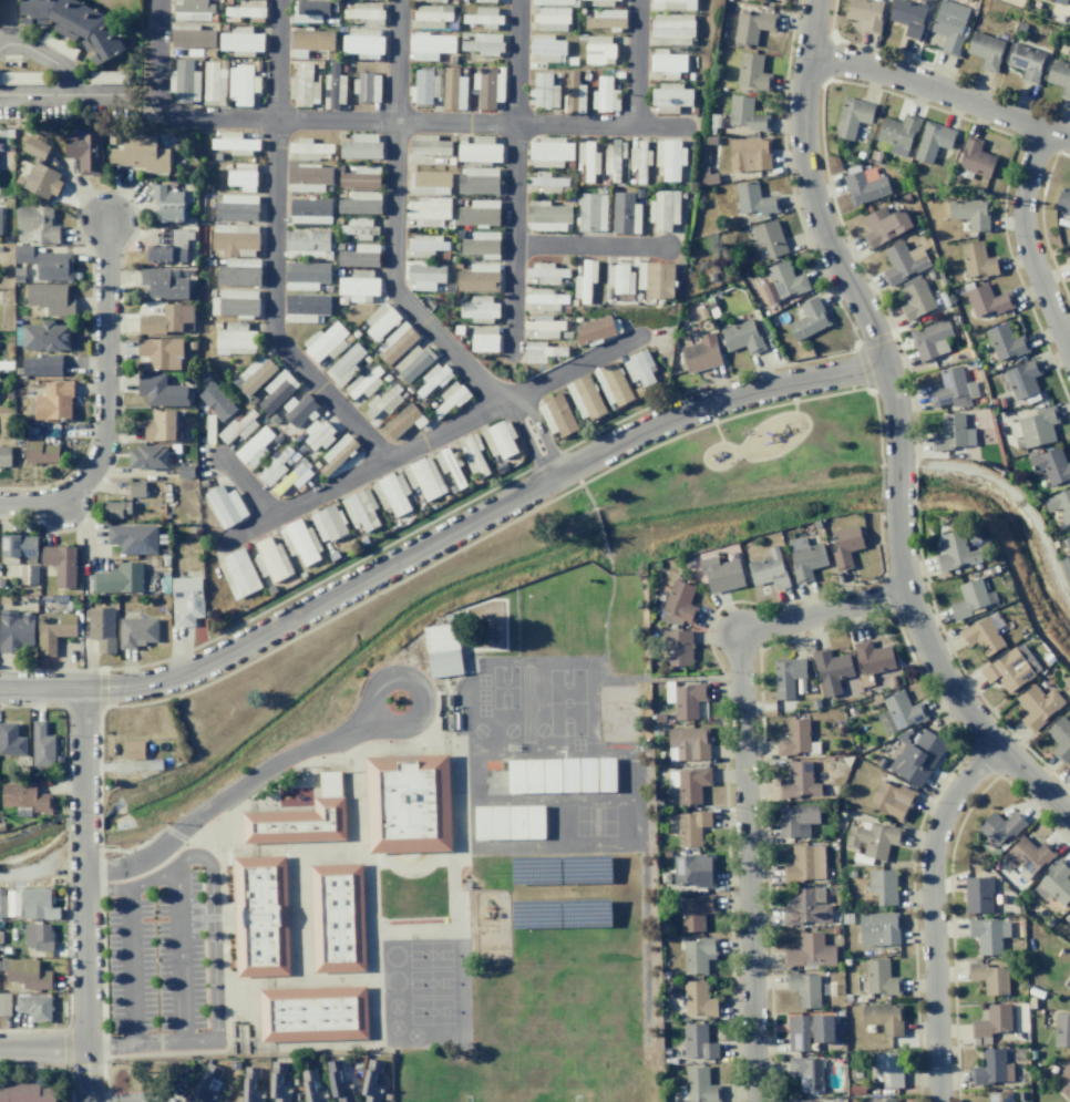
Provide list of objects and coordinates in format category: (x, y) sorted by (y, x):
building: (434, 0)
building: (486, 0)
building: (616, 0)
building: (762, 0)
building: (1059, 1)
building: (553, 2)
building: (673, 4)
building: (192, 10)
building: (244, 10)
building: (309, 10)
building: (366, 12)
building: (865, 13)
building: (432, 14)
building: (907, 17)
building: (484, 18)
building: (552, 19)
building: (606, 19)
road: (8, 21)
building: (76, 23)
building: (752, 24)
building: (949, 25)
building: (672, 28)
building: (191, 37)
building: (240, 41)
building: (311, 41)
building: (362, 42)
building: (481, 43)
building: (58, 45)
building: (429, 45)
building: (547, 48)
building: (598, 50)
building: (985, 50)
road: (156, 61)
building: (1026, 62)
road: (635, 63)
building: (667, 63)
road: (64, 72)
building: (751, 72)
building: (109, 78)
building: (1060, 78)
building: (22, 79)
building: (184, 82)
building: (213, 84)
building: (241, 84)
building: (302, 86)
building: (367, 86)
building: (333, 87)
building: (423, 87)
building: (487, 87)
building: (453, 90)
road: (940, 90)
building: (543, 91)
road: (34, 94)
building: (573, 94)
building: (604, 95)
building: (669, 97)
building: (744, 113)
building: (851, 117)
road: (430, 121)
building: (898, 133)
building: (710, 140)
building: (932, 141)
building: (234, 143)
building: (429, 145)
building: (360, 146)
building: (310, 150)
building: (480, 150)
building: (85, 152)
building: (549, 152)
building: (749, 154)
building: (141, 155)
building: (669, 158)
building: (587, 159)
building: (613, 159)
building: (973, 159)
building: (639, 161)
building: (39, 169)
building: (241, 176)
road: (514, 176)
building: (308, 177)
building: (360, 177)
building: (708, 177)
building: (479, 181)
building: (429, 183)
building: (546, 183)
building: (865, 187)
building: (754, 199)
building: (1063, 199)
building: (167, 203)
building: (360, 203)
building: (236, 207)
building: (663, 209)
building: (309, 210)
building: (428, 210)
building: (590, 212)
building: (479, 213)
building: (970, 213)
building: (625, 214)
building: (547, 216)
building: (0, 220)
road: (392, 223)
building: (37, 225)
building: (884, 225)
building: (360, 227)
building: (769, 237)
road: (824, 238)
building: (234, 239)
building: (306, 244)
road: (1026, 244)
building: (482, 245)
building: (426, 246)
road: (589, 246)
building: (169, 248)
road: (272, 251)
building: (916, 253)
building: (359, 256)
building: (977, 259)
building: (1069, 260)
building: (45, 262)
building: (901, 264)
building: (238, 272)
building: (545, 272)
building: (305, 275)
building: (425, 276)
building: (479, 278)
building: (620, 279)
building: (656, 279)
building: (584, 281)
building: (782, 282)
building: (164, 284)
building: (358, 286)
building: (50, 298)
building: (915, 298)
building: (546, 299)
building: (988, 300)
building: (235, 302)
building: (306, 308)
building: (480, 309)
building: (166, 319)
building: (809, 320)
building: (380, 321)
building: (543, 326)
building: (594, 330)
building: (45, 337)
building: (742, 337)
building: (928, 338)
building: (235, 339)
building: (484, 339)
building: (322, 341)
building: (397, 342)
building: (1006, 342)
building: (541, 351)
building: (161, 352)
building: (701, 353)
building: (412, 363)
building: (42, 365)
building: (343, 365)
building: (639, 368)
building: (254, 374)
building: (1021, 378)
building: (363, 383)
building: (951, 389)
building: (160, 390)
building: (276, 391)
road: (106, 398)
building: (585, 398)
building: (53, 401)
building: (215, 401)
building: (382, 404)
building: (291, 413)
building: (557, 414)
building: (401, 421)
building: (161, 425)
building: (1038, 426)
building: (238, 428)
road: (717, 431)
road: (541, 432)
building: (951, 433)
road: (430, 437)
road: (526, 439)
building: (498, 441)
building: (254, 446)
building: (41, 451)
building: (337, 453)
building: (4, 455)
building: (474, 455)
building: (147, 456)
building: (449, 465)
building: (1051, 465)
road: (723, 468)
building: (186, 471)
building: (424, 477)
building: (292, 478)
road: (897, 485)
road: (247, 486)
building: (136, 490)
building: (392, 493)
road: (587, 497)
building: (1059, 504)
building: (225, 506)
building: (115, 509)
building: (361, 509)
building: (328, 523)
road: (599, 532)
road: (442, 535)
building: (133, 538)
building: (300, 542)
building: (1068, 542)
building: (845, 546)
building: (18, 548)
building: (955, 552)
building: (805, 558)
building: (271, 559)
road: (609, 562)
park: (547, 563)
building: (60, 564)
building: (1064, 568)
building: (769, 570)
building: (23, 574)
building: (238, 574)
building: (721, 574)
building: (119, 578)
building: (186, 599)
building: (969, 599)
building: (680, 603)
building: (102, 628)
building: (16, 630)
building: (53, 630)
building: (136, 631)
building: (981, 636)
building: (676, 647)
building: (442, 650)
building: (873, 657)
building: (1010, 668)
building: (831, 670)
building: (786, 677)
road: (946, 681)
road: (373, 692)
building: (688, 699)
building: (1037, 707)
building: (903, 710)
building: (794, 738)
building: (11, 740)
building: (1060, 740)
building: (688, 743)
building: (42, 745)
building: (133, 749)
building: (917, 758)
building: (154, 764)
building: (1069, 768)
building: (498, 776)
building: (517, 776)
building: (535, 776)
building: (553, 776)
road: (745, 781)
building: (798, 781)
building: (689, 783)
road: (228, 794)
building: (25, 796)
building: (892, 800)
building: (408, 804)
building: (796, 818)
building: (492, 823)
building: (518, 823)
building: (536, 823)
building: (297, 824)
building: (691, 826)
building: (1000, 827)
building: (873, 841)
building: (1028, 857)
building: (804, 864)
building: (695, 869)
road: (18, 874)
building: (1057, 882)
building: (883, 886)
road: (84, 895)
building: (978, 895)
building: (3, 903)
building: (39, 904)
building: (806, 907)
building: (695, 912)
road: (930, 913)
building: (260, 917)
building: (337, 919)
building: (1069, 920)
building: (878, 929)
building: (987, 934)
building: (39, 937)
building: (809, 951)
road: (214, 952)
building: (698, 955)
road: (179, 956)
parking lot: (155, 957)
road: (132, 968)
building: (1069, 972)
building: (28, 974)
building: (881, 978)
building: (989, 978)
building: (804, 989)
building: (698, 999)
building: (4, 1005)
building: (34, 1007)
building: (312, 1013)
building: (883, 1018)
building: (991, 1021)
building: (807, 1030)
building: (1062, 1030)
building: (697, 1041)
road: (42, 1047)
building: (990, 1068)
building: (888, 1069)
building: (806, 1072)
building: (1066, 1081)
building: (279, 1082)
building: (339, 1082)
building: (371, 1082)
building: (206, 1084)
building: (251, 1085)
building: (699, 1085)
building: (311, 1086)
building: (23, 1091)
building: (2, 1093)
building: (48, 1094)
building: (998, 1095)
road: (120, 1099)
building: (801, 1100)
building: (814, 1101)
building: (882, 1101)

